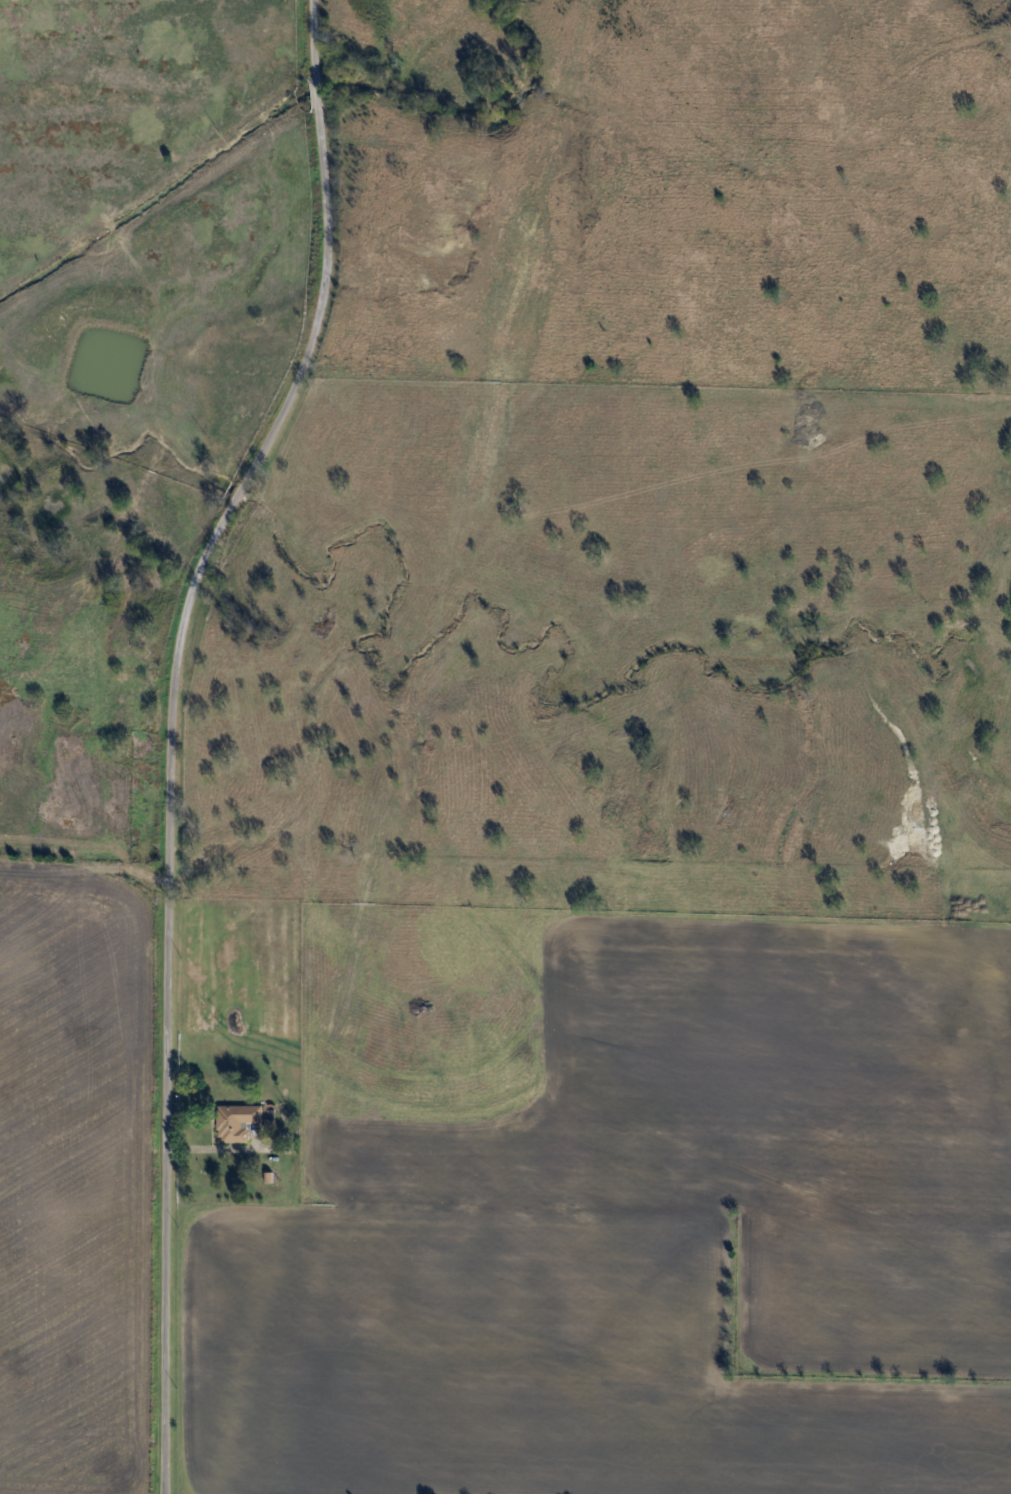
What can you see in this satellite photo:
road: (169, 730)
building: (238, 1122)

